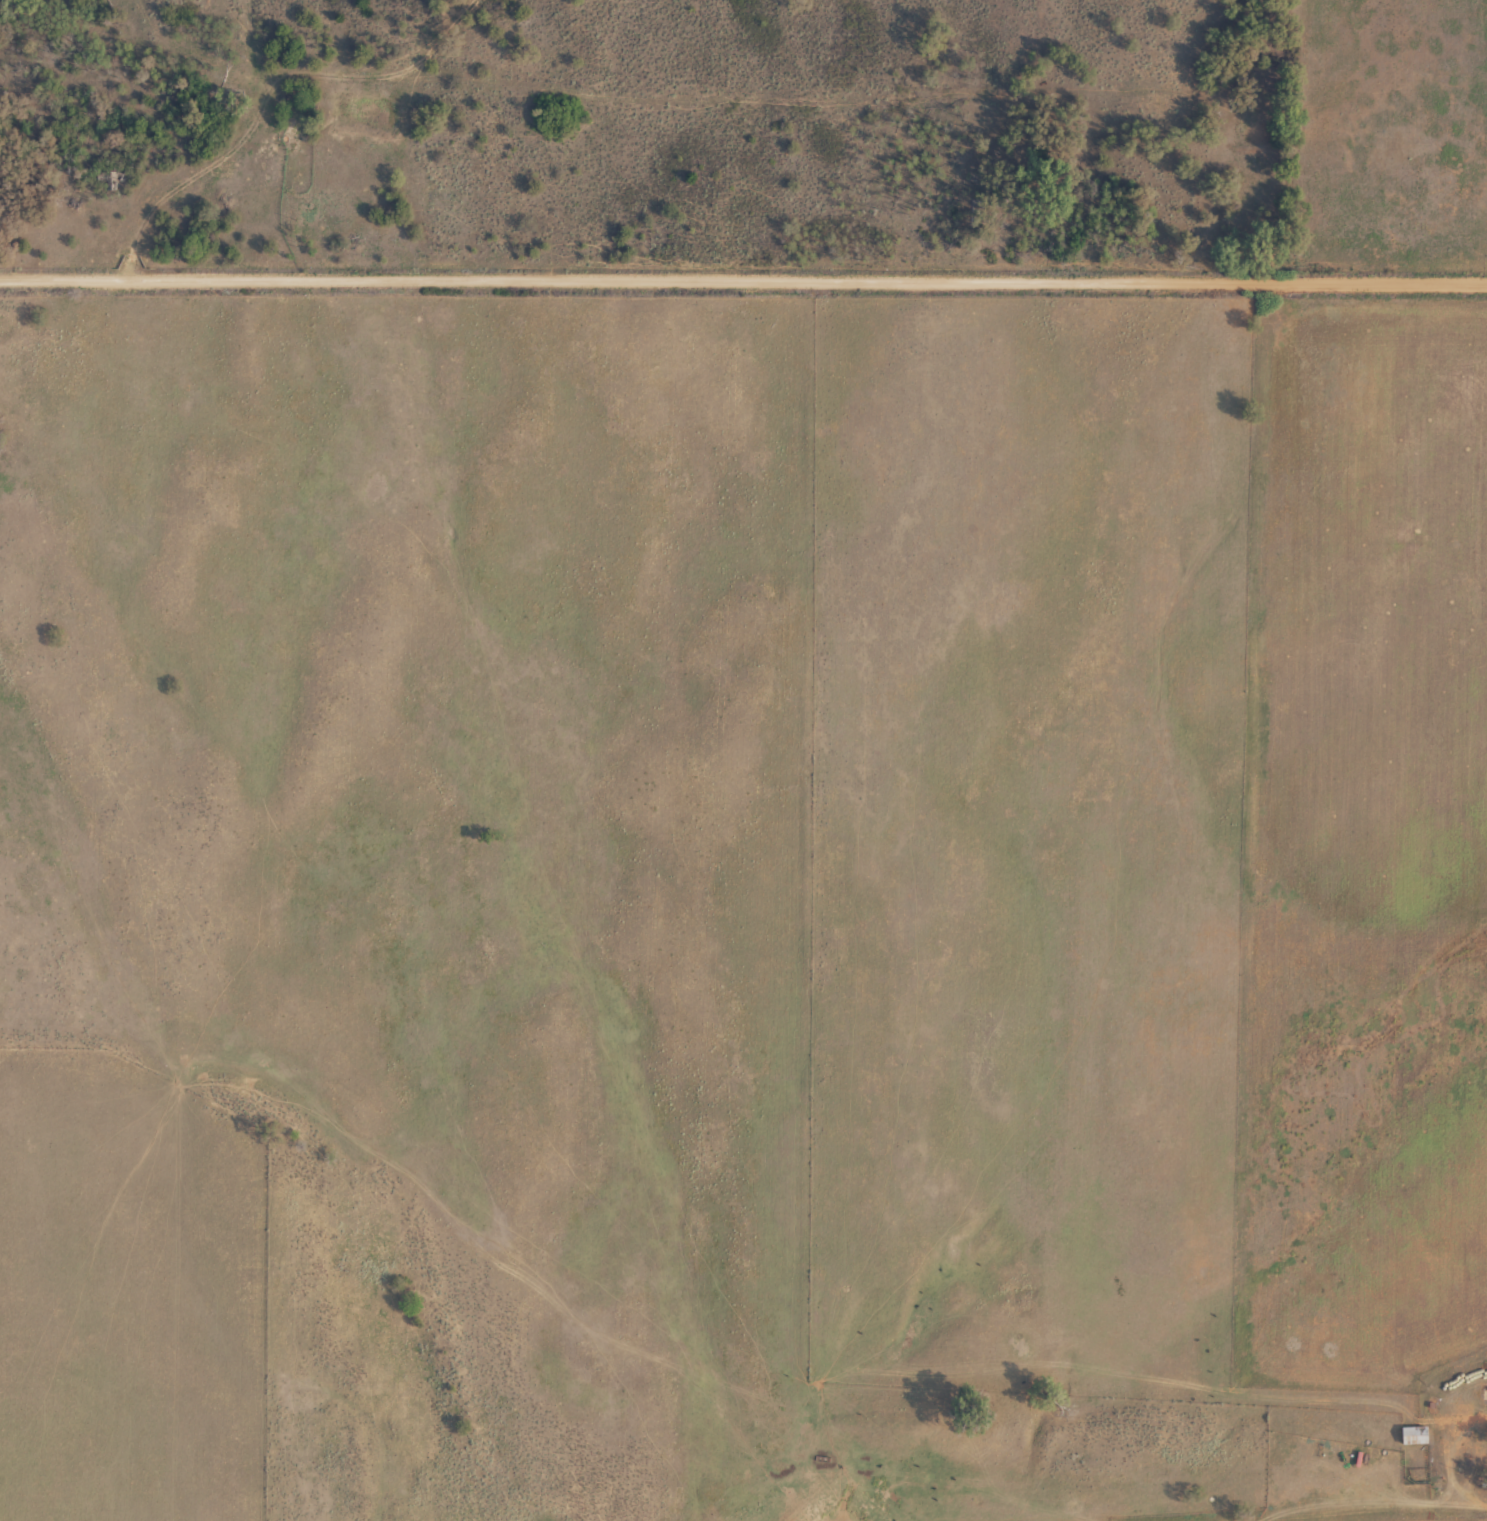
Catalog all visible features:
road: (265, 116)
road: (743, 283)
crop: (743, 760)
building: (1466, 1408)
building: (1417, 1433)

